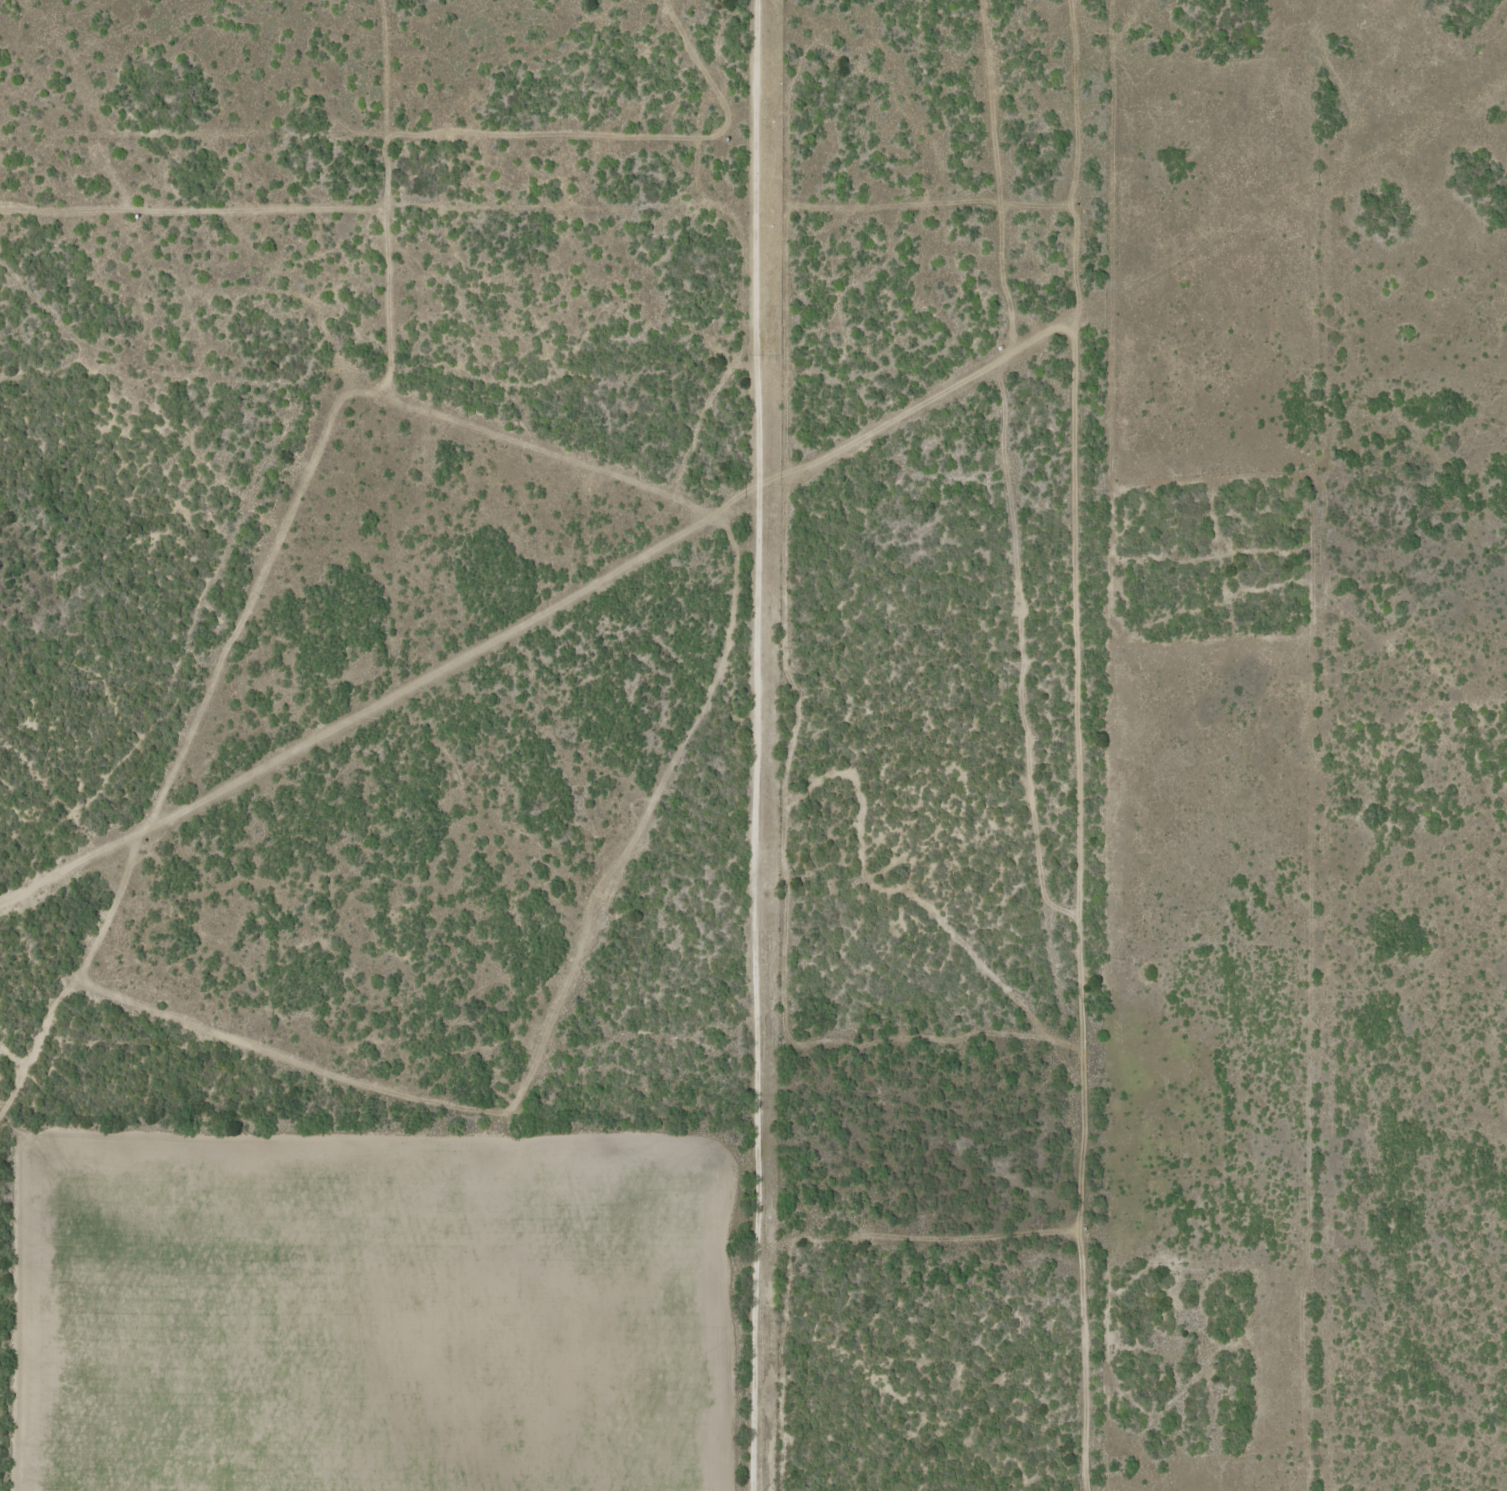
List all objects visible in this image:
road: (738, 745)

